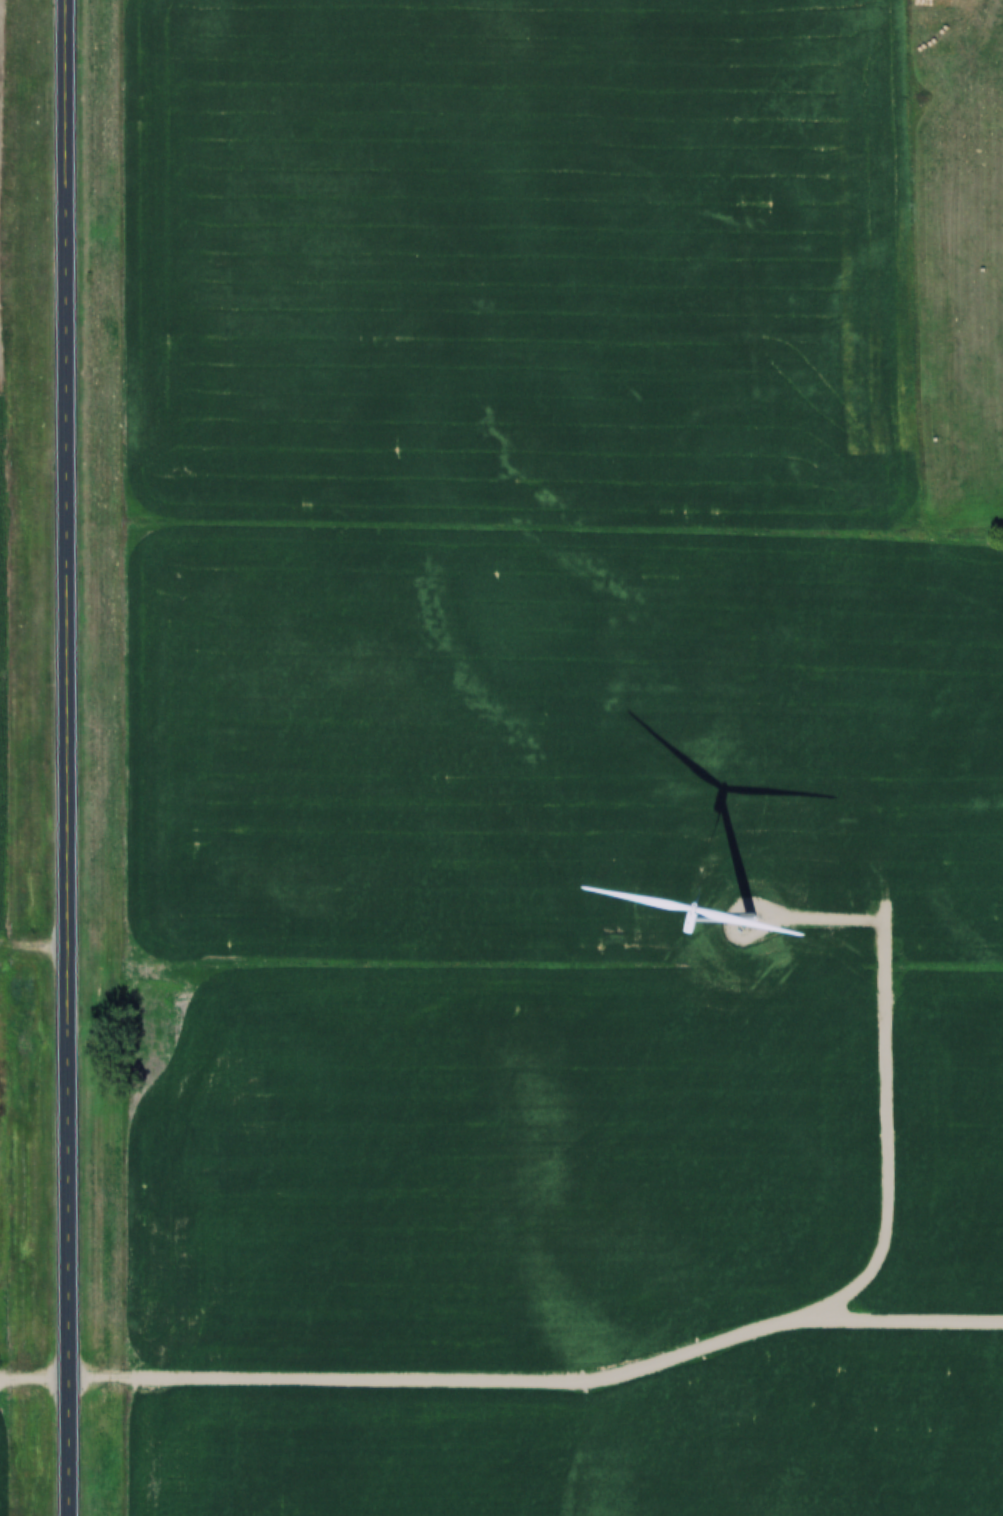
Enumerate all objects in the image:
road: (71, 757)
wind turbine: (763, 931)
road: (884, 1138)
road: (508, 1384)

